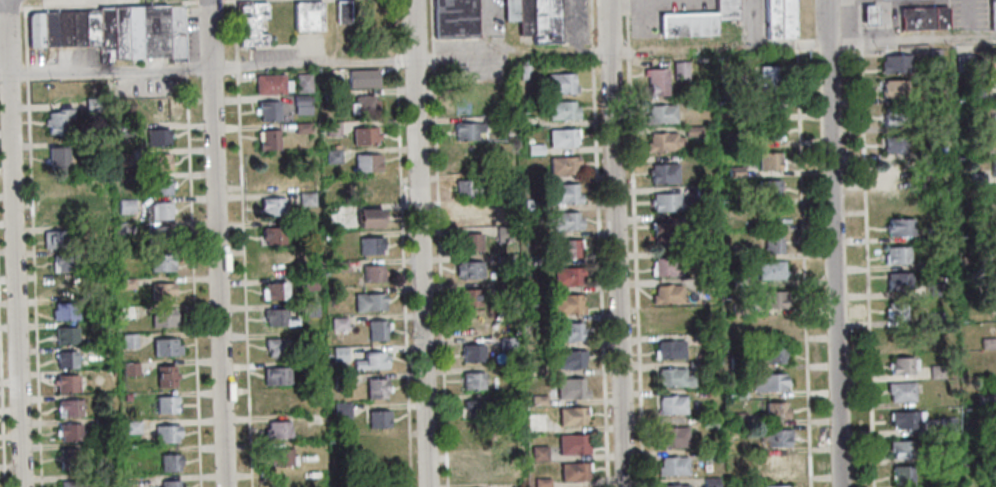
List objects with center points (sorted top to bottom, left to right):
road: (126, 3)
road: (627, 6)
road: (9, 7)
building: (510, 10)
building: (341, 13)
building: (993, 14)
building: (869, 16)
building: (308, 17)
building: (454, 18)
building: (524, 18)
building: (779, 18)
road: (797, 18)
building: (923, 19)
building: (544, 21)
building: (697, 22)
park: (280, 23)
road: (592, 23)
building: (250, 24)
building: (82, 27)
building: (103, 27)
road: (628, 27)
building: (47, 28)
building: (61, 28)
building: (33, 29)
building: (151, 29)
building: (124, 31)
building: (173, 33)
road: (24, 36)
road: (912, 40)
road: (798, 43)
road: (711, 47)
road: (629, 49)
road: (594, 51)
road: (503, 54)
building: (992, 58)
building: (963, 62)
building: (895, 64)
road: (206, 66)
building: (680, 70)
building: (524, 72)
road: (25, 73)
building: (765, 78)
building: (362, 79)
building: (728, 80)
building: (657, 83)
building: (302, 84)
building: (152, 85)
building: (269, 85)
building: (560, 85)
building: (118, 87)
building: (894, 89)
building: (972, 94)
building: (300, 100)
building: (465, 103)
building: (91, 105)
building: (767, 105)
building: (366, 107)
building: (160, 111)
building: (302, 111)
building: (562, 111)
building: (268, 112)
building: (995, 112)
building: (662, 115)
building: (896, 116)
building: (499, 121)
building: (54, 122)
building: (924, 123)
building: (300, 129)
building: (331, 129)
building: (121, 130)
building: (692, 131)
building: (467, 132)
building: (766, 133)
building: (157, 137)
building: (364, 137)
building: (562, 138)
building: (732, 140)
building: (268, 142)
building: (663, 142)
building: (91, 143)
building: (894, 144)
building: (123, 156)
building: (57, 157)
building: (332, 157)
building: (468, 159)
building: (768, 161)
building: (158, 162)
building: (366, 164)
building: (563, 166)
building: (993, 167)
building: (274, 171)
building: (734, 171)
building: (900, 172)
building: (663, 174)
building: (498, 177)
building: (976, 178)
building: (158, 185)
building: (768, 189)
building: (370, 190)
building: (468, 190)
building: (702, 193)
building: (563, 194)
building: (305, 200)
building: (502, 203)
building: (668, 203)
building: (530, 204)
building: (124, 206)
building: (95, 207)
building: (272, 208)
building: (159, 210)
building: (62, 214)
building: (468, 215)
building: (369, 220)
building: (563, 221)
building: (898, 227)
building: (123, 228)
building: (159, 234)
building: (503, 234)
building: (932, 234)
building: (662, 235)
building: (272, 236)
building: (58, 239)
road: (13, 243)
road: (216, 243)
road: (241, 243)
road: (401, 243)
road: (419, 243)
road: (438, 243)
building: (468, 243)
road: (615, 243)
building: (771, 243)
road: (834, 243)
road: (866, 243)
building: (370, 246)
building: (993, 249)
building: (565, 250)
building: (738, 251)
building: (96, 254)
building: (694, 255)
building: (897, 256)
building: (159, 261)
building: (64, 262)
building: (504, 262)
building: (338, 266)
building: (666, 267)
road: (803, 268)
building: (770, 270)
building: (468, 271)
road: (601, 272)
road: (636, 272)
building: (372, 274)
building: (567, 277)
road: (191, 281)
building: (898, 281)
building: (309, 282)
building: (739, 282)
building: (126, 283)
road: (32, 284)
building: (534, 284)
building: (702, 285)
building: (66, 287)
building: (505, 287)
building: (937, 288)
building: (274, 290)
building: (160, 291)
building: (667, 295)
building: (469, 298)
building: (773, 299)
building: (368, 301)
building: (995, 302)
building: (567, 306)
building: (740, 309)
building: (308, 310)
building: (62, 311)
building: (896, 311)
building: (126, 312)
building: (935, 316)
building: (161, 317)
building: (277, 317)
building: (669, 321)
building: (338, 323)
building: (472, 325)
building: (775, 326)
building: (376, 329)
building: (569, 333)
building: (66, 335)
building: (897, 338)
building: (127, 340)
building: (987, 343)
building: (506, 344)
building: (275, 346)
building: (164, 347)
building: (670, 350)
building: (337, 353)
building: (472, 354)
building: (770, 356)
building: (65, 359)
building: (370, 360)
building: (569, 360)
building: (736, 362)
building: (304, 365)
building: (694, 366)
building: (901, 366)
building: (129, 369)
building: (937, 371)
building: (275, 375)
building: (164, 376)
building: (673, 378)
building: (64, 382)
building: (472, 382)
building: (769, 383)
building: (374, 387)
building: (570, 389)
building: (900, 392)
building: (737, 393)
building: (982, 399)
building: (277, 400)
building: (537, 401)
building: (164, 404)
building: (671, 405)
building: (69, 407)
building: (476, 408)
building: (341, 409)
building: (775, 412)
building: (995, 415)
building: (377, 417)
building: (737, 417)
building: (571, 418)
building: (904, 420)
building: (708, 421)
building: (101, 424)
building: (946, 425)
building: (131, 427)
building: (276, 429)
building: (70, 432)
building: (165, 433)
building: (479, 435)
building: (671, 438)
building: (773, 438)
building: (571, 446)
building: (901, 449)
building: (537, 454)
building: (990, 454)
building: (709, 455)
building: (951, 455)
building: (278, 456)
building: (67, 458)
building: (168, 462)
building: (672, 466)
building: (774, 467)
building: (476, 470)
building: (572, 472)
building: (901, 476)
building: (282, 481)
building: (541, 482)
building: (710, 482)
building: (948, 482)
building: (991, 482)
building: (71, 483)
building: (169, 483)
building: (675, 486)
building: (778, 486)

